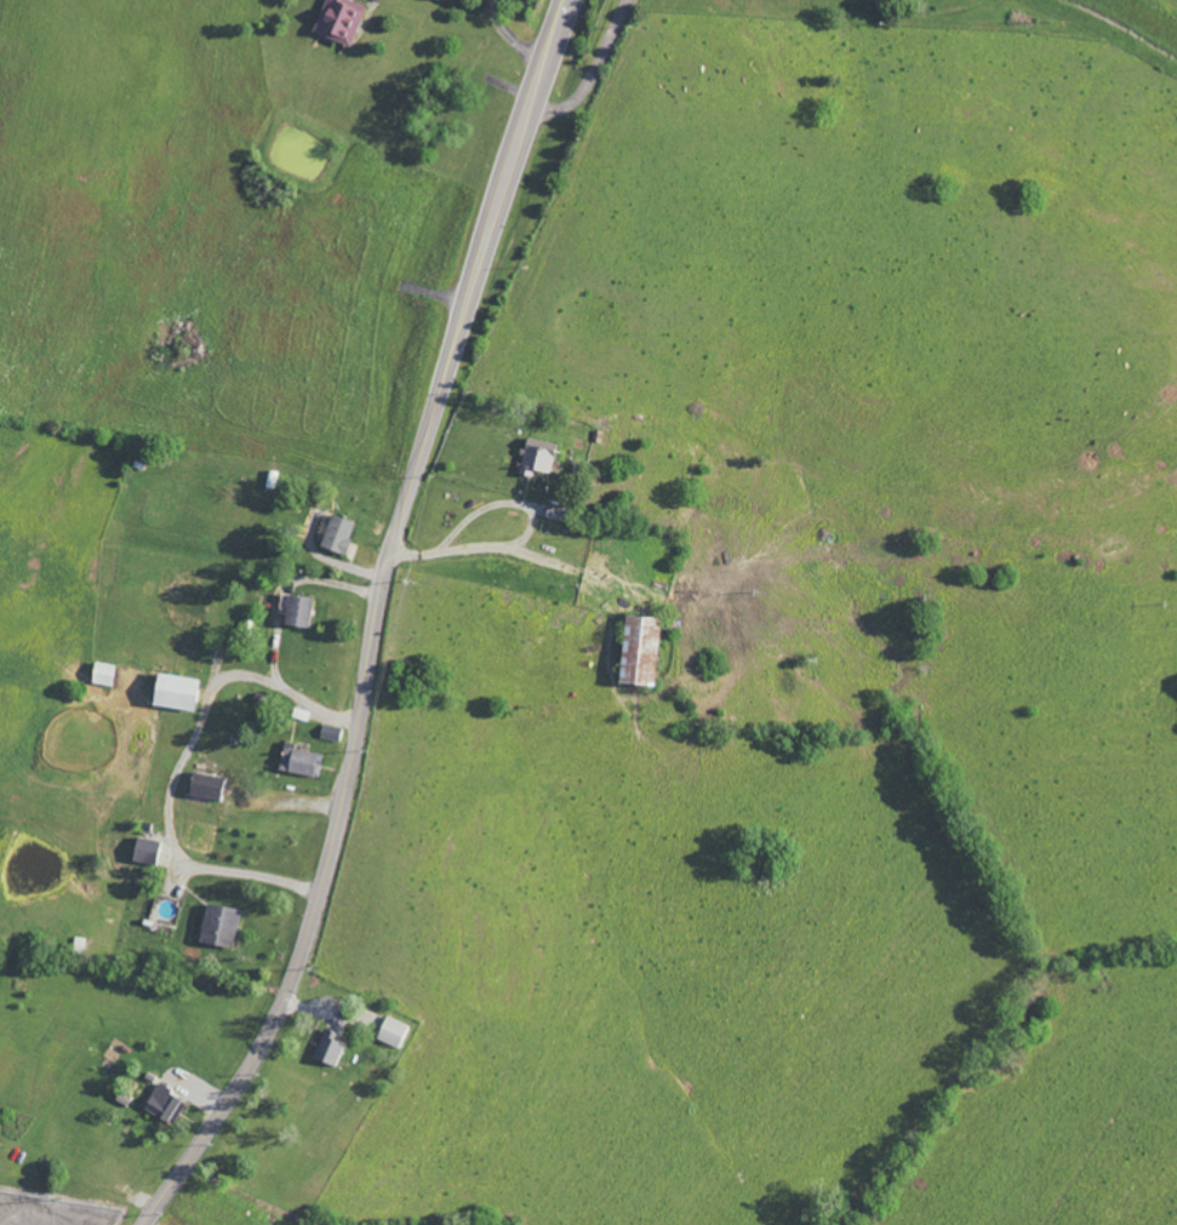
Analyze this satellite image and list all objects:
building: (337, 19)
building: (536, 454)
building: (335, 534)
road: (515, 546)
road: (287, 582)
building: (296, 611)
road: (376, 624)
building: (634, 651)
building: (101, 674)
building: (171, 692)
building: (298, 762)
road: (179, 765)
building: (204, 786)
building: (144, 846)
building: (218, 923)
building: (393, 1031)
building: (328, 1048)
building: (162, 1101)
power substation: (53, 1209)

